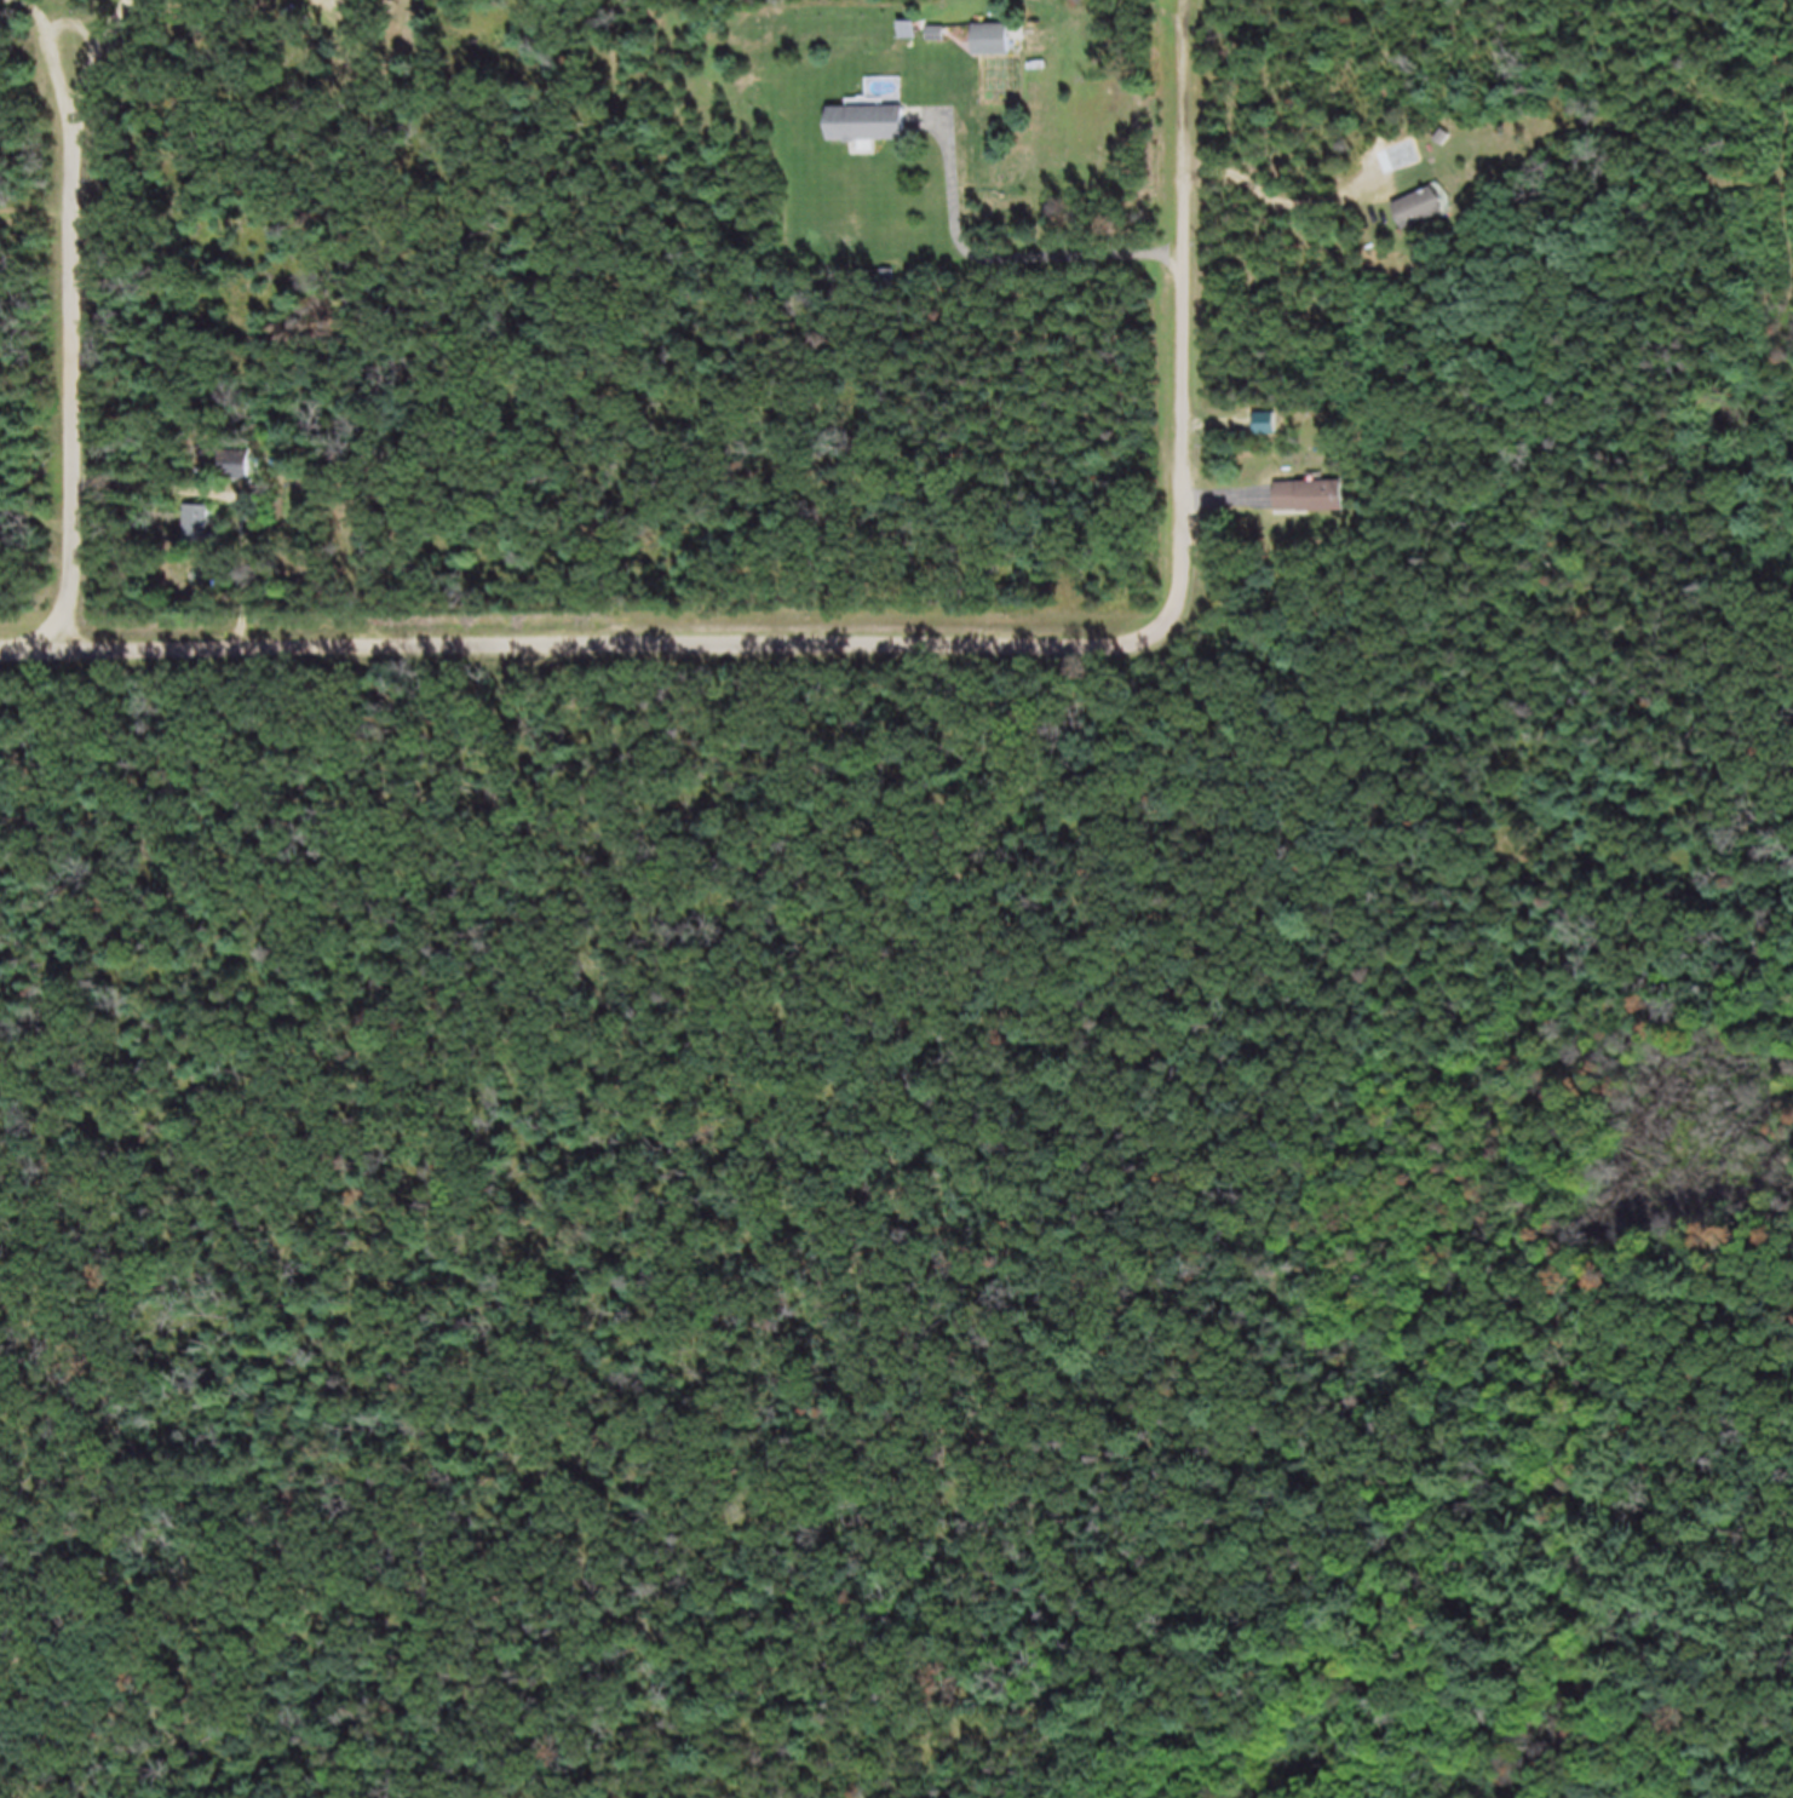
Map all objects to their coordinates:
building: (329, 1)
road: (1179, 19)
road: (1191, 19)
road: (75, 23)
building: (1000, 36)
road: (52, 62)
road: (96, 63)
building: (879, 122)
building: (1413, 150)
building: (1413, 163)
road: (1280, 196)
building: (1431, 203)
building: (1432, 218)
road: (1006, 255)
road: (1190, 373)
road: (74, 392)
building: (241, 476)
building: (1332, 493)
building: (1295, 494)
building: (205, 527)
road: (551, 648)

